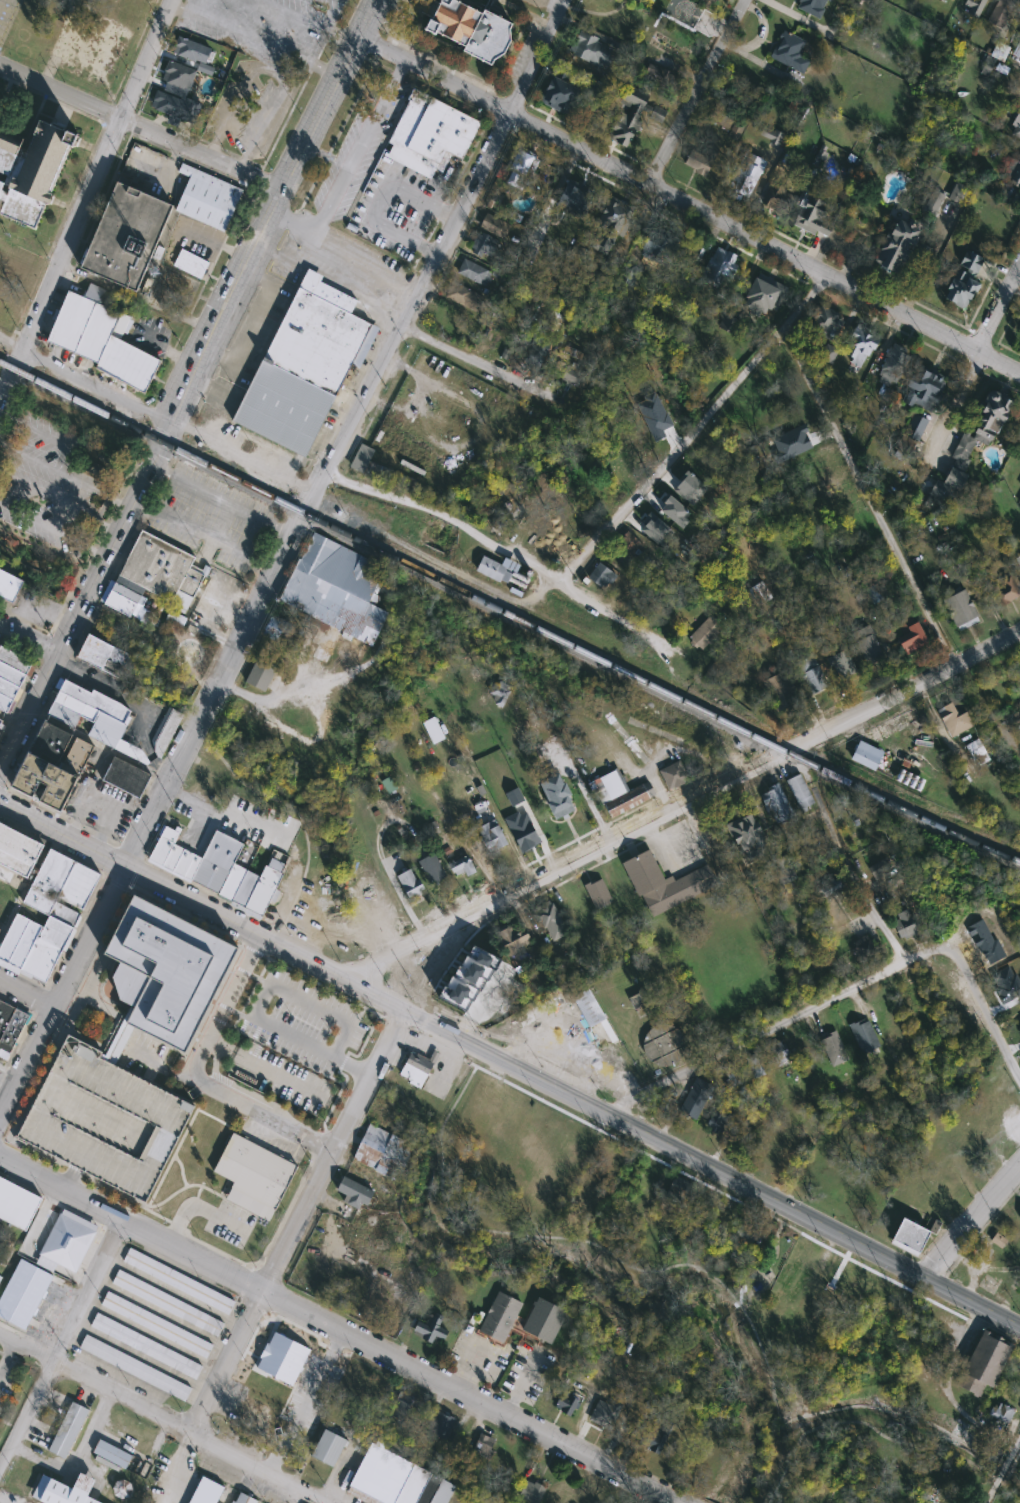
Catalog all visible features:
building: (815, 7)
building: (974, 7)
road: (525, 13)
building: (998, 14)
parking lot: (7, 17)
road: (304, 20)
parking lot: (268, 28)
building: (473, 28)
road: (254, 39)
parking lot: (90, 48)
building: (192, 50)
building: (591, 51)
building: (1017, 51)
building: (790, 52)
building: (179, 76)
road: (700, 93)
building: (559, 97)
building: (639, 104)
building: (172, 105)
building: (1016, 123)
road: (139, 127)
building: (429, 134)
parking lot: (360, 145)
road: (360, 149)
building: (700, 162)
building: (523, 169)
building: (30, 172)
building: (1013, 172)
building: (745, 178)
road: (665, 193)
road: (87, 197)
building: (208, 199)
road: (382, 203)
building: (775, 204)
parking lot: (394, 208)
building: (815, 216)
building: (494, 225)
building: (609, 227)
building: (127, 238)
building: (483, 246)
building: (895, 248)
building: (657, 250)
road: (345, 253)
building: (192, 265)
building: (718, 267)
building: (474, 273)
building: (963, 281)
building: (328, 294)
building: (464, 297)
building: (761, 298)
road: (998, 310)
building: (826, 323)
road: (256, 324)
building: (86, 325)
building: (1019, 340)
road: (11, 342)
building: (316, 343)
building: (860, 344)
road: (999, 364)
road: (487, 365)
building: (128, 366)
building: (893, 366)
railway: (187, 376)
road: (189, 384)
road: (97, 385)
building: (923, 389)
road: (951, 407)
building: (282, 409)
building: (915, 428)
road: (342, 432)
road: (678, 444)
building: (969, 448)
building: (641, 450)
road: (242, 456)
building: (361, 456)
building: (105, 458)
building: (99, 471)
parking lot: (51, 484)
building: (601, 497)
road: (868, 497)
road: (222, 498)
building: (1018, 502)
parking lot: (212, 517)
road: (222, 520)
road: (204, 533)
building: (628, 545)
road: (505, 547)
building: (1018, 560)
building: (509, 562)
building: (161, 566)
building: (492, 567)
building: (601, 576)
building: (130, 585)
building: (9, 586)
building: (334, 588)
building: (876, 592)
building: (1004, 592)
building: (759, 594)
building: (127, 595)
building: (122, 605)
building: (961, 611)
railway: (508, 614)
building: (277, 629)
building: (705, 632)
building: (912, 637)
road: (29, 639)
building: (759, 640)
building: (868, 646)
park: (183, 649)
building: (103, 654)
building: (14, 658)
building: (842, 665)
building: (11, 673)
building: (261, 673)
building: (811, 675)
building: (8, 688)
road: (291, 690)
building: (781, 692)
building: (5, 701)
building: (94, 702)
building: (74, 707)
building: (1017, 715)
building: (62, 716)
road: (11, 718)
building: (954, 718)
building: (0, 723)
building: (106, 731)
building: (167, 732)
building: (46, 744)
road: (96, 744)
road: (667, 748)
building: (975, 750)
building: (131, 753)
building: (866, 756)
building: (208, 771)
building: (127, 775)
building: (674, 775)
building: (48, 777)
building: (800, 792)
building: (618, 795)
building: (554, 796)
road: (586, 796)
road: (101, 797)
road: (691, 800)
building: (776, 805)
parking lot: (103, 807)
road: (221, 813)
parking lot: (242, 819)
building: (521, 831)
building: (170, 832)
building: (491, 836)
building: (745, 836)
building: (161, 849)
building: (18, 850)
building: (173, 855)
building: (182, 860)
building: (217, 860)
building: (192, 864)
building: (462, 866)
building: (433, 869)
building: (883, 869)
building: (233, 880)
road: (854, 881)
building: (410, 883)
road: (26, 884)
building: (48, 884)
building: (664, 884)
building: (246, 887)
road: (399, 887)
building: (830, 887)
building: (79, 888)
building: (263, 889)
building: (598, 894)
building: (571, 910)
building: (64, 916)
building: (548, 919)
building: (1, 920)
building: (905, 924)
building: (55, 934)
road: (85, 935)
building: (511, 941)
building: (17, 943)
building: (863, 948)
building: (40, 962)
building: (163, 970)
building: (469, 976)
road: (24, 991)
building: (645, 1000)
road: (258, 1002)
building: (587, 1006)
road: (983, 1007)
parking lot: (304, 1022)
building: (11, 1023)
road: (769, 1032)
building: (864, 1037)
building: (115, 1044)
building: (664, 1046)
storage tank: (664, 1046)
building: (834, 1049)
road: (24, 1050)
building: (781, 1053)
road: (161, 1064)
road: (510, 1065)
building: (754, 1066)
road: (6, 1068)
building: (418, 1068)
road: (270, 1070)
building: (733, 1075)
road: (197, 1076)
parking lot: (289, 1078)
road: (162, 1087)
building: (696, 1099)
building: (666, 1103)
road: (218, 1118)
building: (720, 1119)
building: (104, 1120)
parking lot: (104, 1120)
road: (331, 1151)
building: (383, 1151)
road: (173, 1155)
road: (1019, 1166)
road: (182, 1169)
building: (255, 1175)
road: (184, 1186)
building: (678, 1190)
building: (354, 1194)
building: (17, 1203)
road: (198, 1206)
building: (1019, 1217)
building: (1019, 1218)
road: (973, 1221)
parking lot: (230, 1222)
building: (933, 1225)
building: (1, 1226)
road: (129, 1226)
building: (909, 1234)
building: (745, 1235)
building: (998, 1239)
building: (68, 1244)
road: (841, 1264)
road: (771, 1265)
road: (704, 1272)
road: (884, 1275)
building: (1, 1278)
building: (181, 1283)
road: (84, 1291)
building: (23, 1295)
park: (795, 1301)
building: (169, 1305)
building: (500, 1317)
building: (544, 1320)
building: (159, 1327)
building: (431, 1328)
road: (7, 1339)
building: (149, 1348)
road: (33, 1352)
parking lot: (478, 1356)
building: (282, 1357)
road: (7, 1358)
building: (984, 1364)
building: (137, 1370)
road: (471, 1370)
parking lot: (527, 1371)
road: (214, 1381)
road: (520, 1384)
parking lot: (7, 1389)
parking lot: (309, 1392)
road: (468, 1399)
building: (567, 1404)
road: (303, 1405)
building: (398, 1405)
building: (251, 1410)
road: (26, 1413)
building: (1000, 1414)
building: (604, 1423)
building: (439, 1427)
building: (69, 1431)
road: (186, 1432)
building: (652, 1434)
building: (484, 1447)
building: (329, 1449)
building: (112, 1455)
road: (1000, 1466)
road: (782, 1480)
building: (395, 1481)
building: (68, 1492)
building: (531, 1493)
building: (244, 1499)

